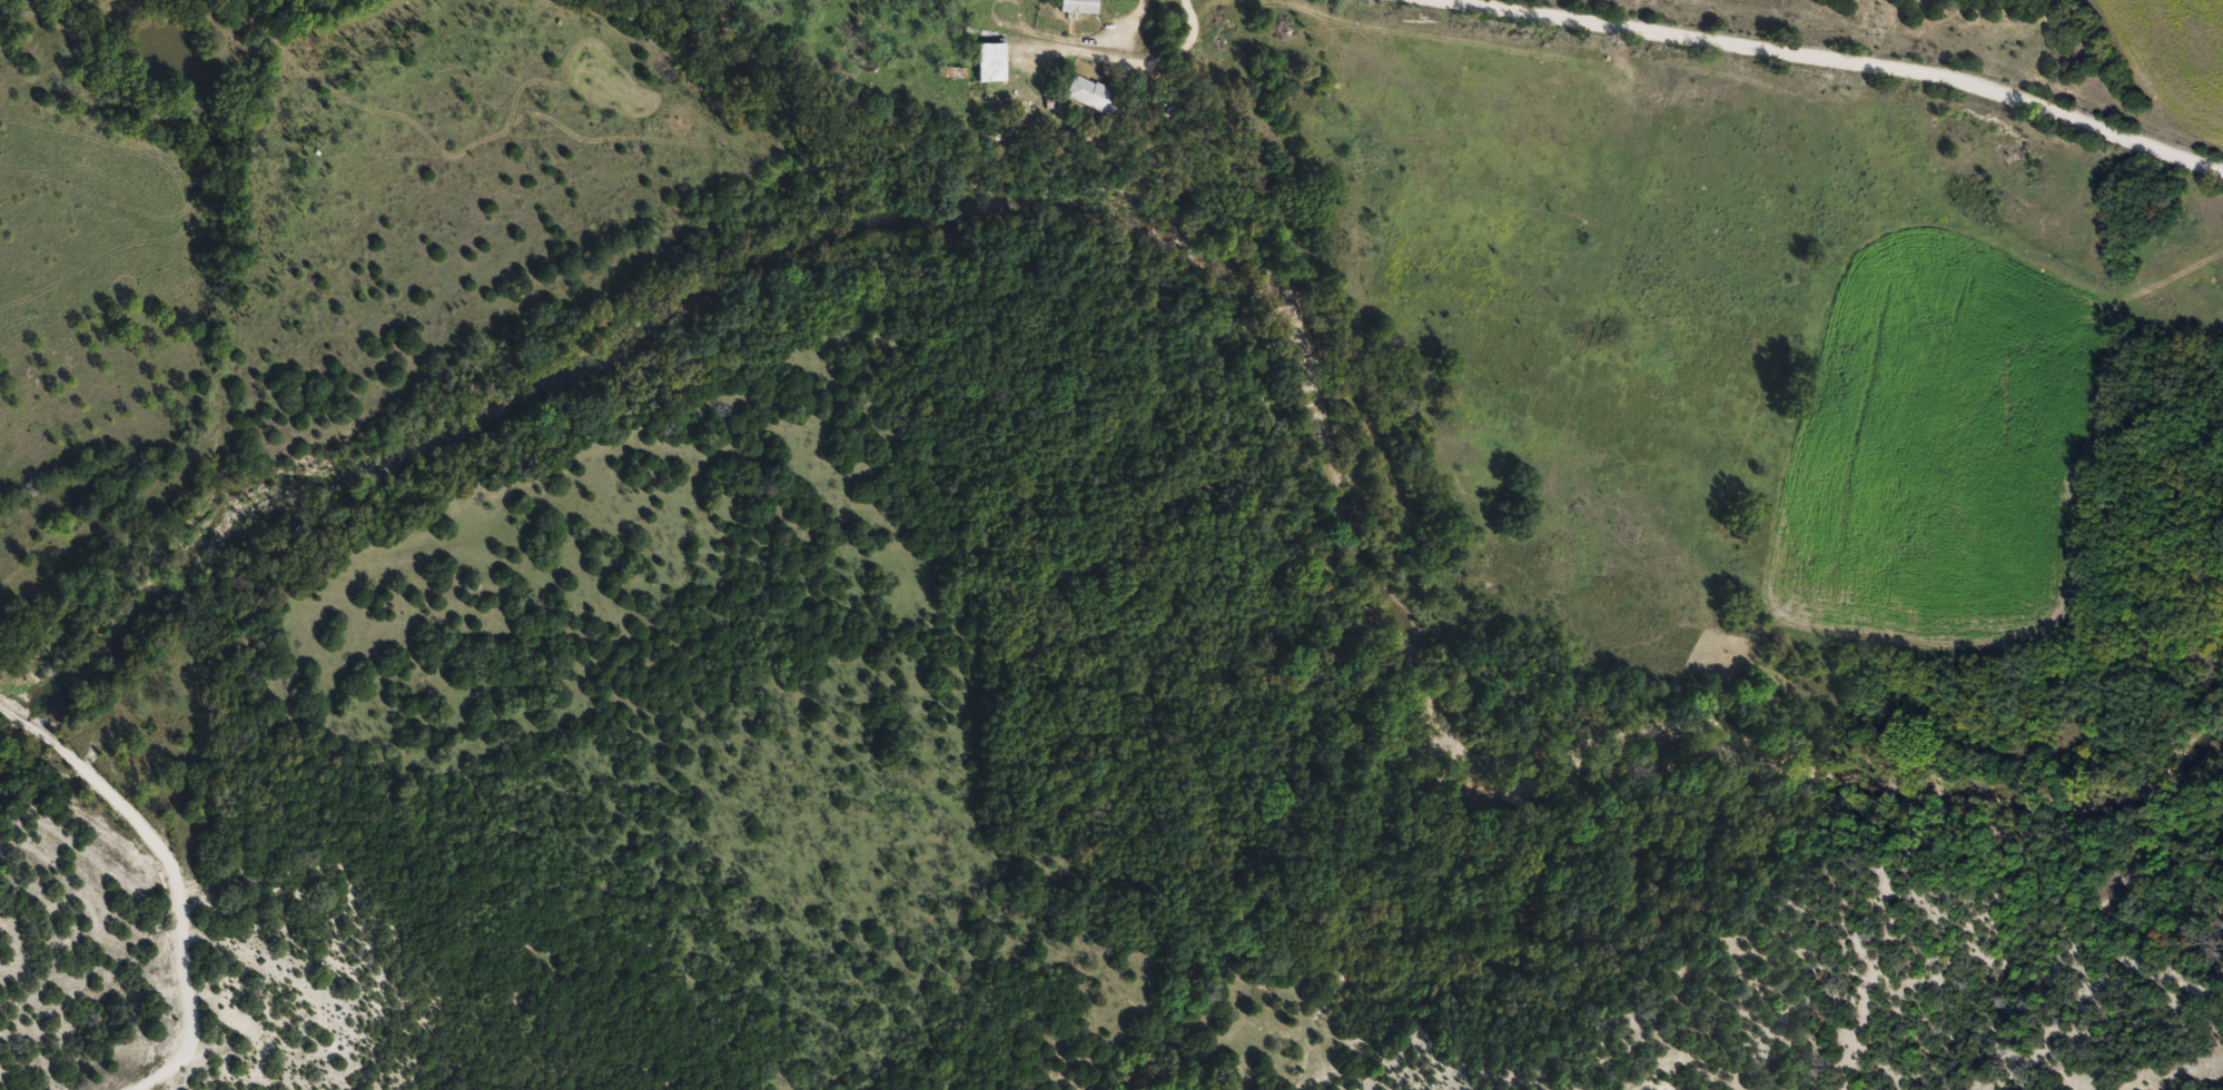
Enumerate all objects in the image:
building: (1077, 8)
road: (1819, 62)
building: (1086, 96)

